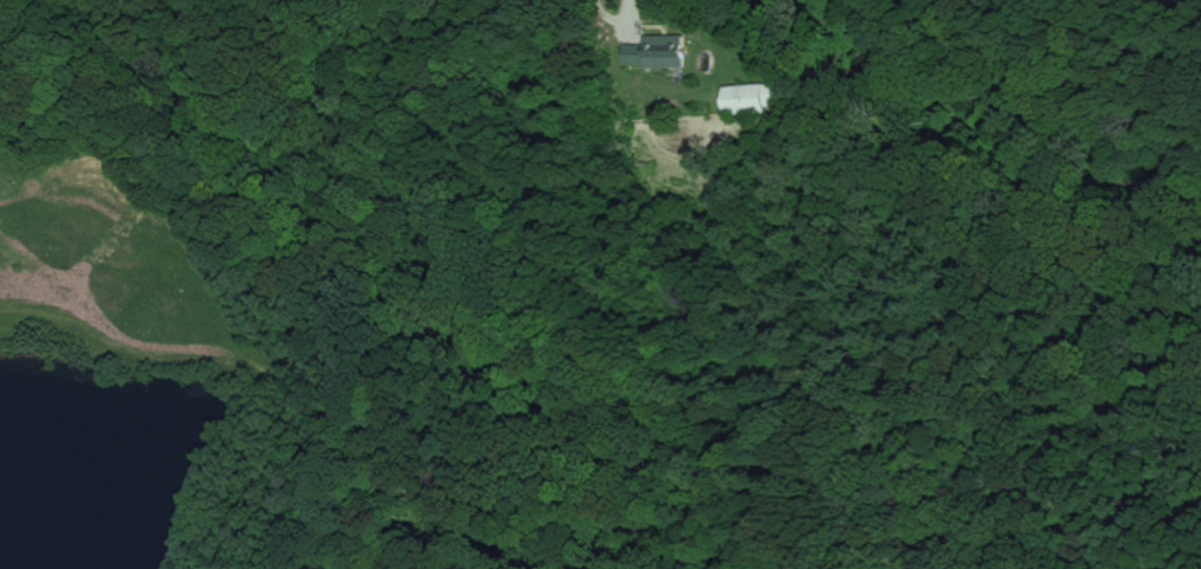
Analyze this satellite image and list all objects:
road: (613, 24)
building: (655, 51)
building: (751, 96)

